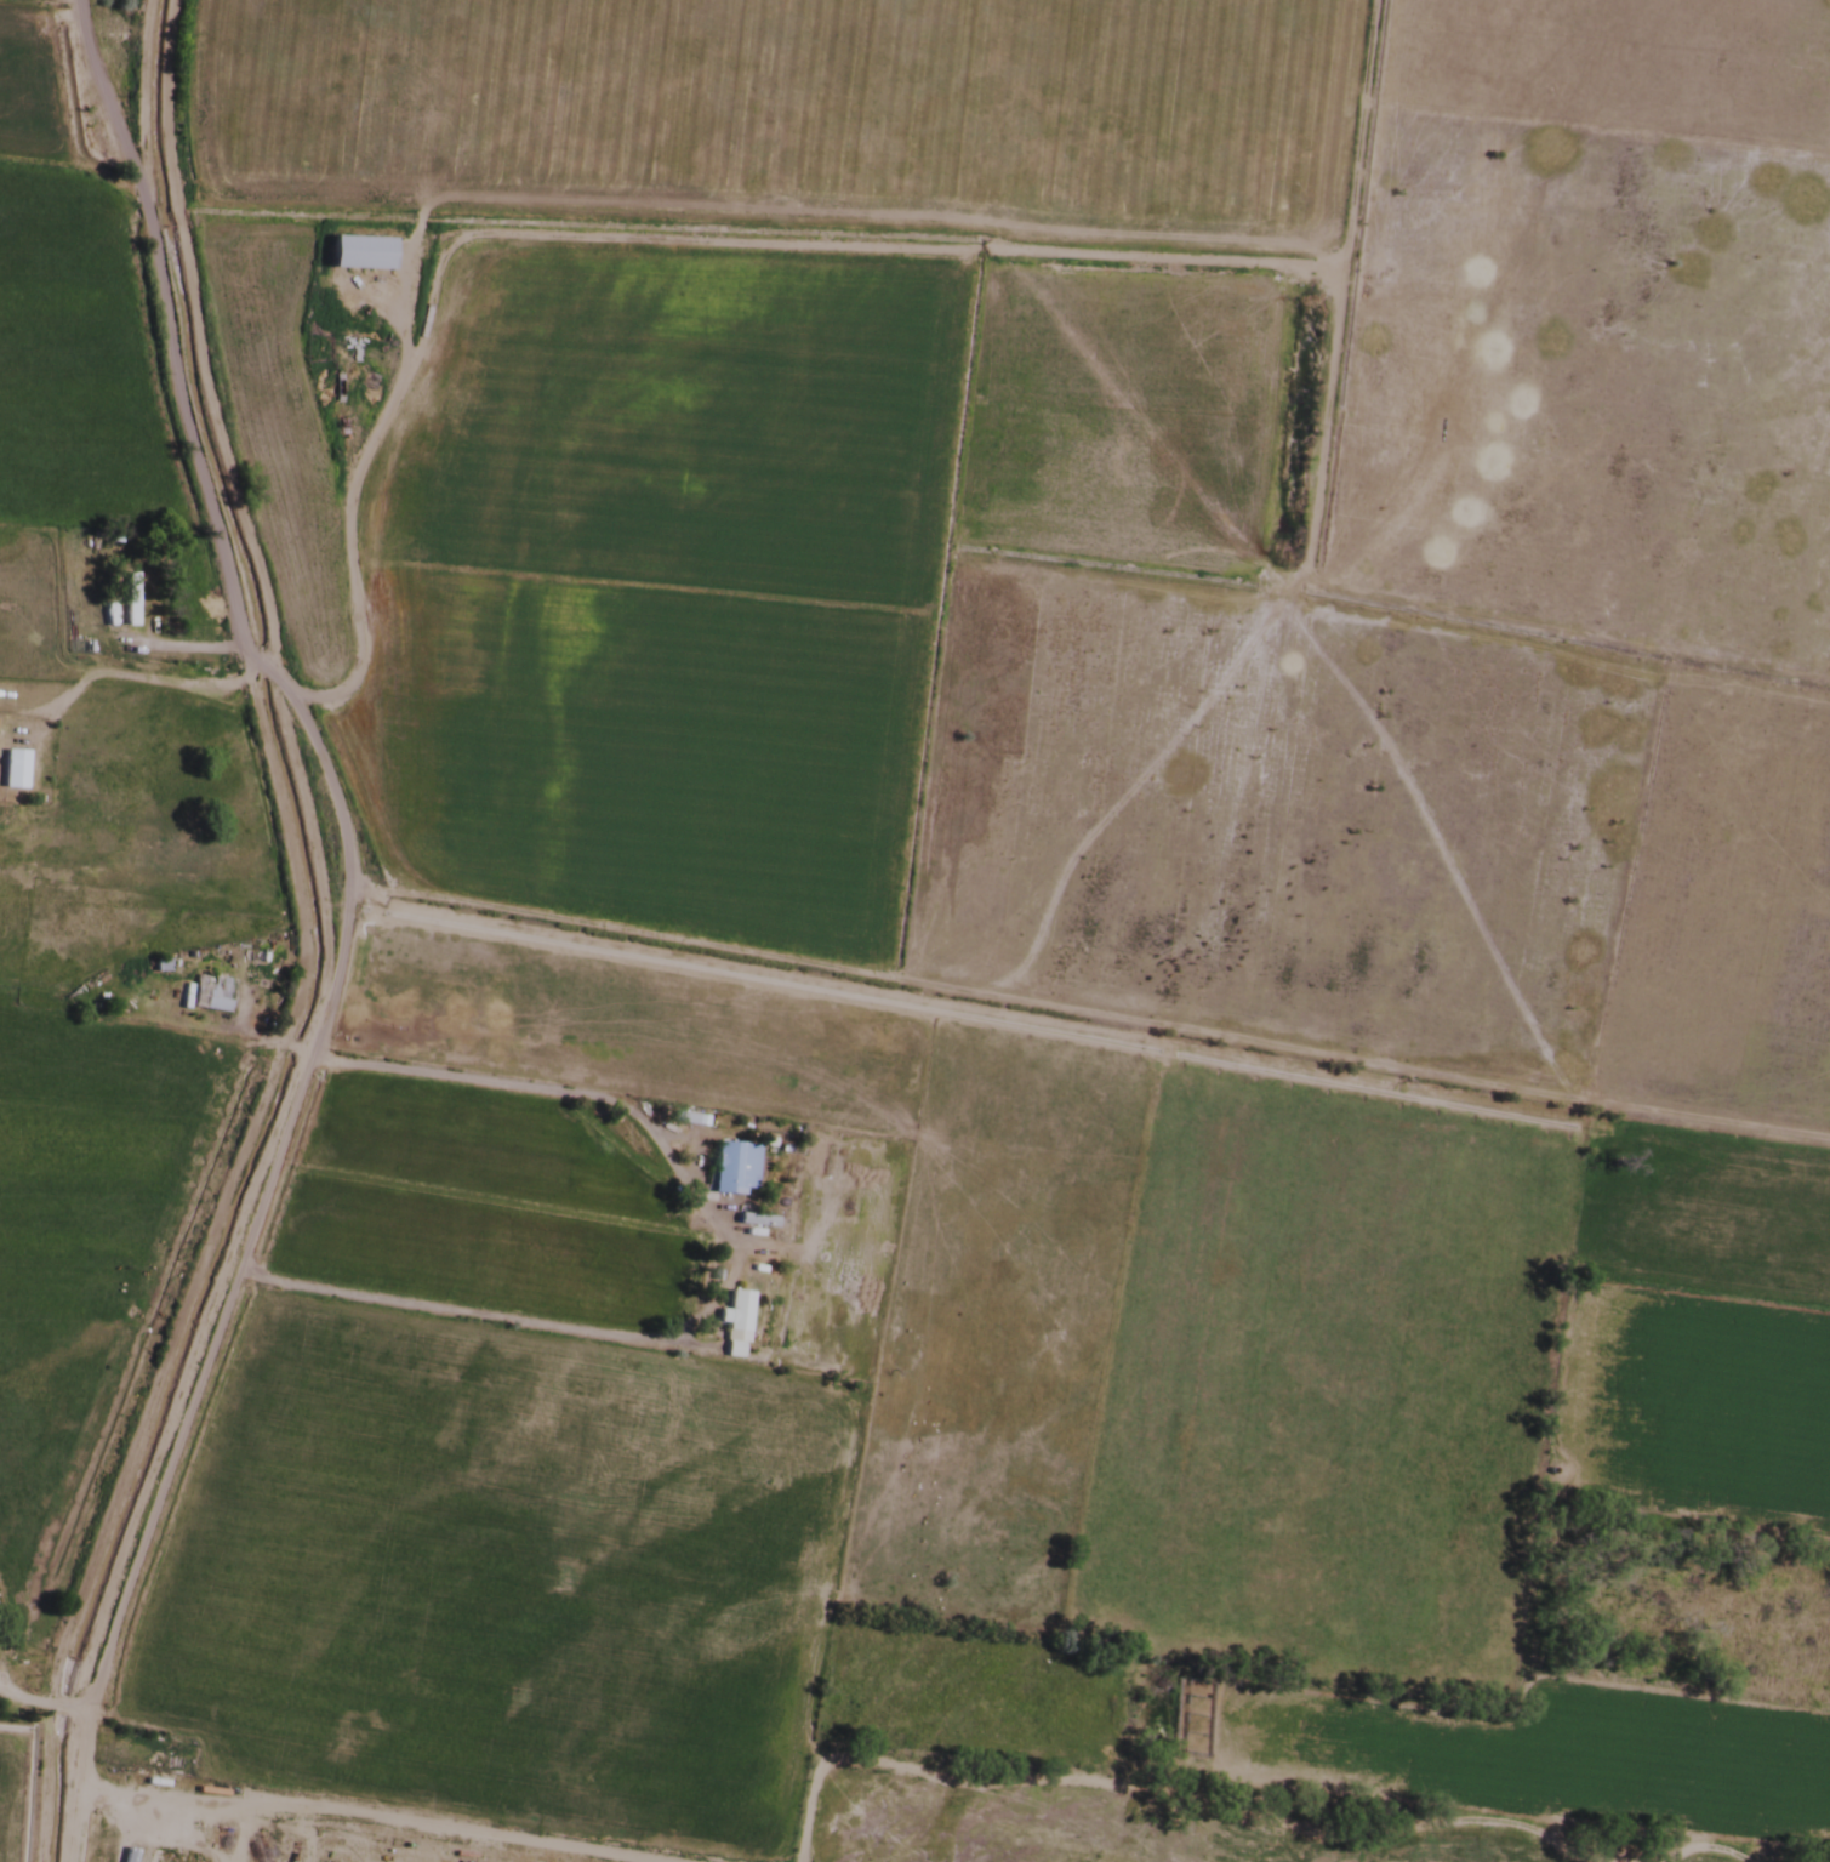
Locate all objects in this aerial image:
building: (358, 254)
building: (12, 770)
road: (336, 924)
building: (210, 995)
road: (1084, 1014)
building: (732, 1168)
building: (735, 1316)

